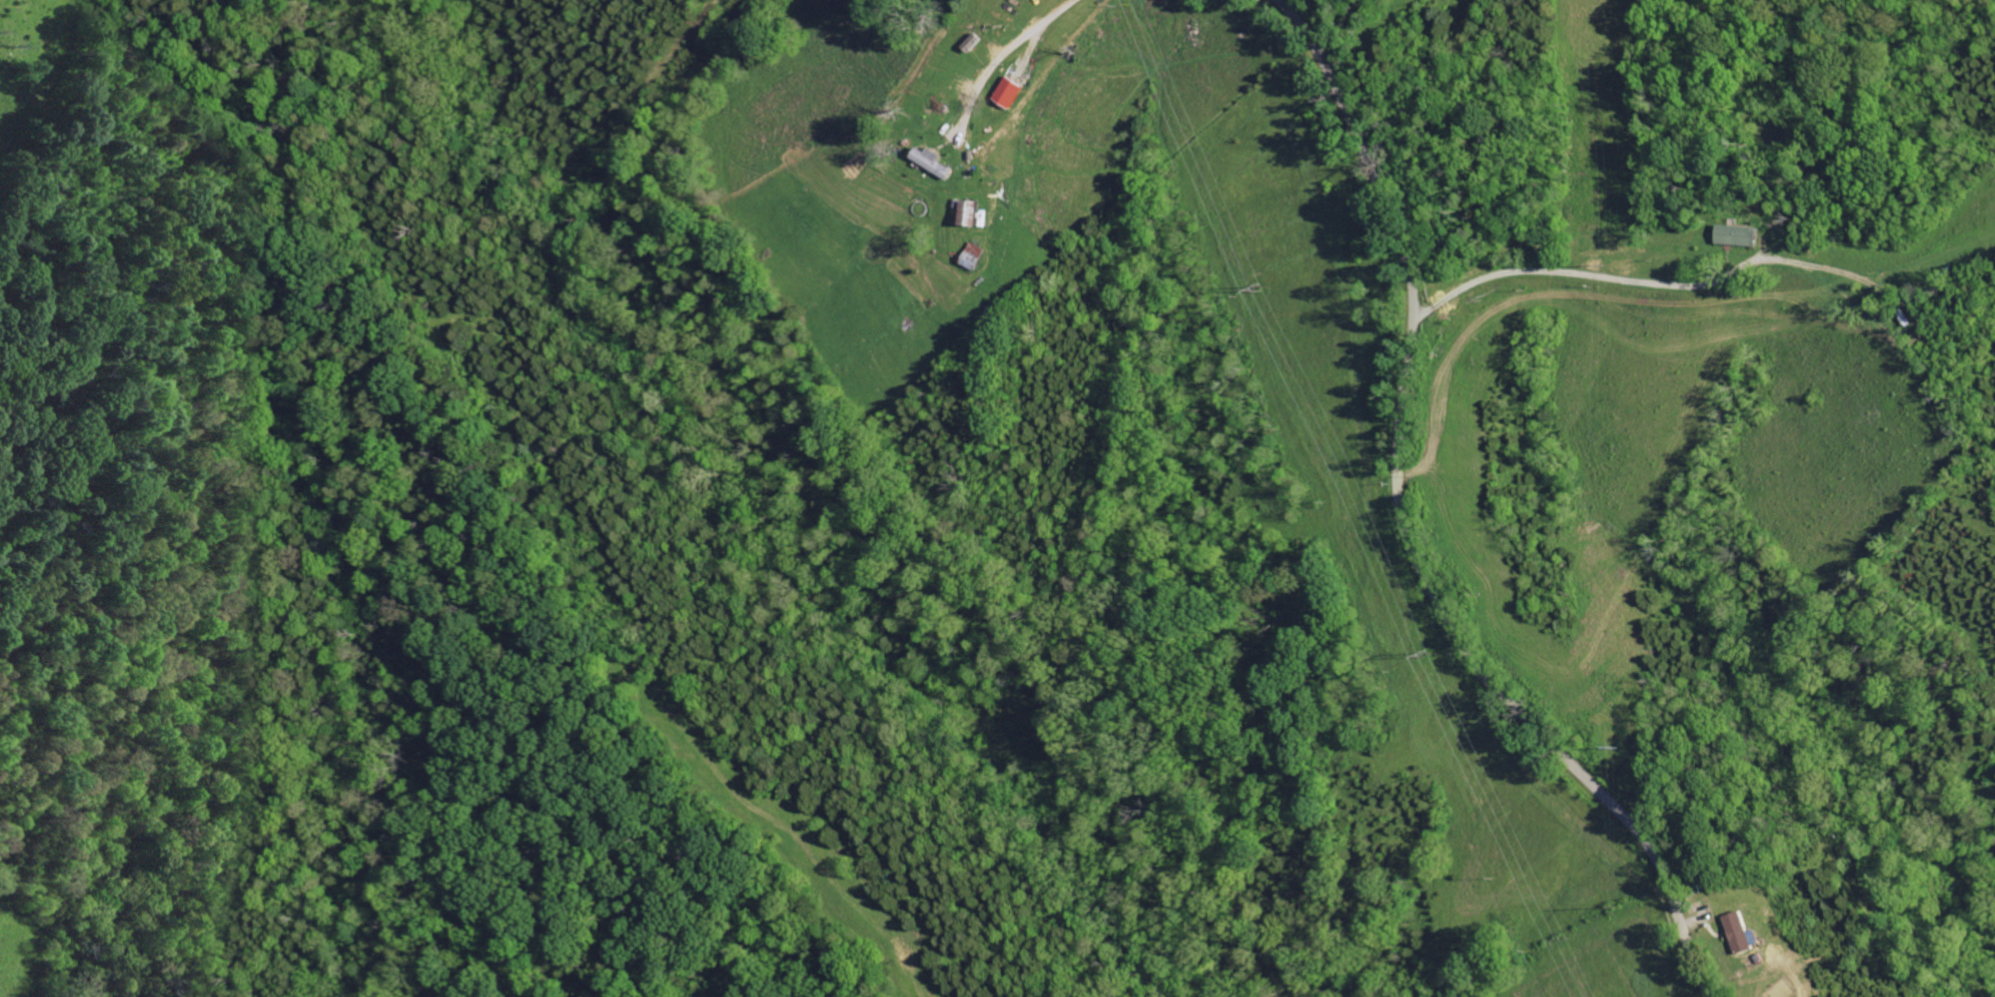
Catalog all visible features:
road: (1002, 58)
building: (1015, 92)
building: (936, 162)
building: (978, 214)
building: (1742, 236)
building: (978, 257)
road: (1637, 282)
road: (1405, 530)
building: (1748, 933)

